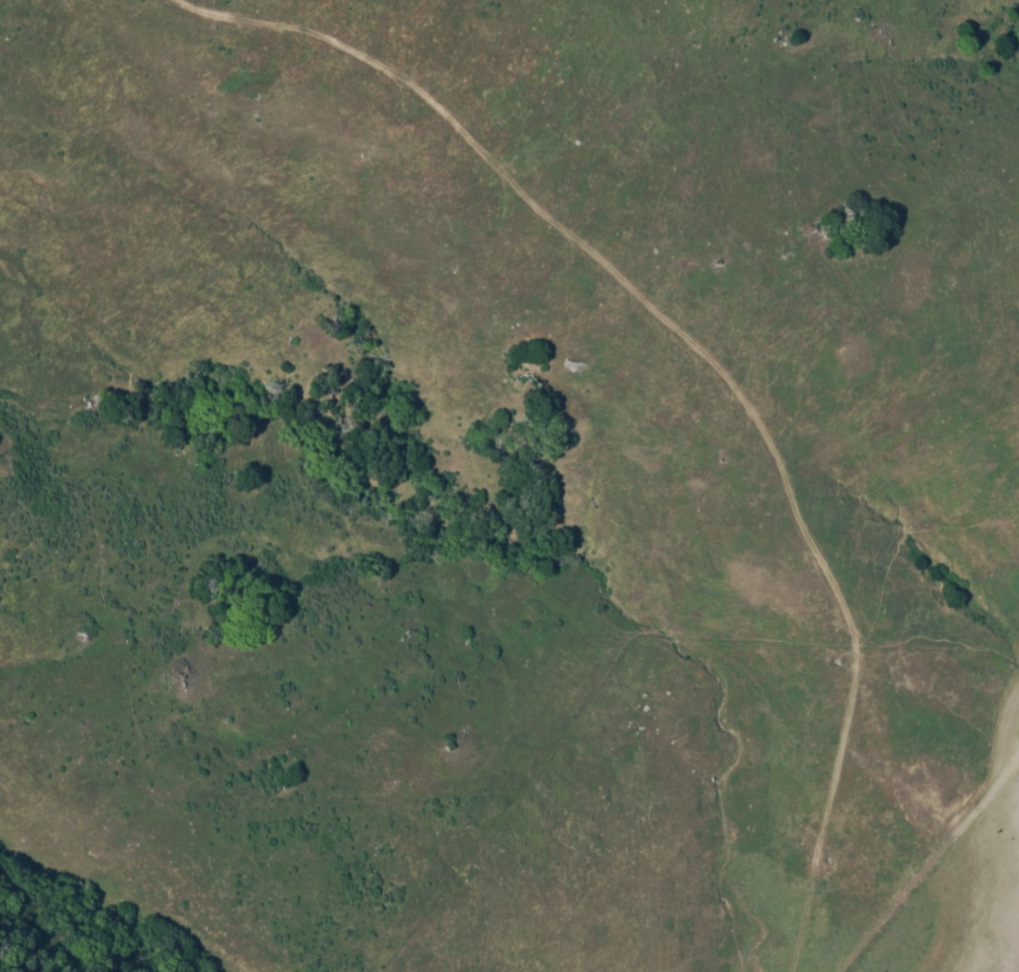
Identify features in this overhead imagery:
road: (702, 359)

